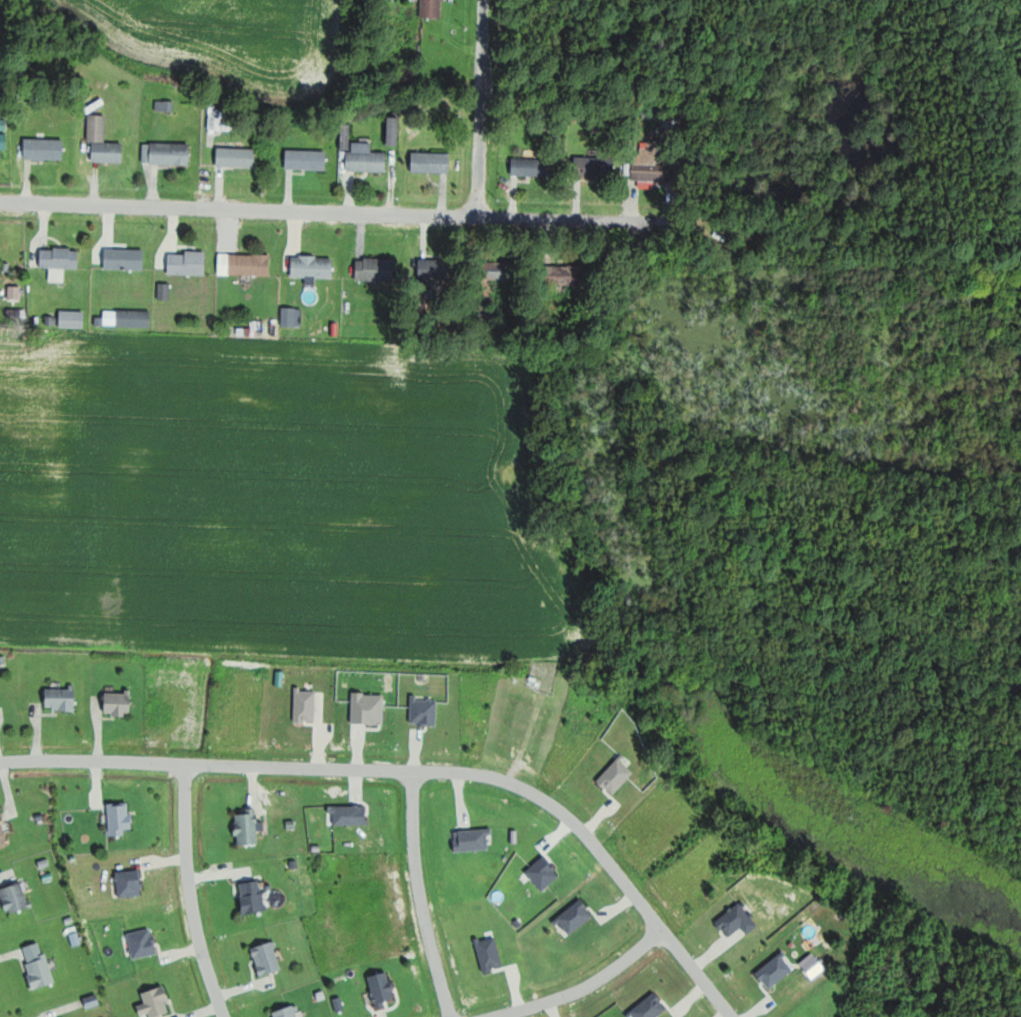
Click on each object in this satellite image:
building: (434, 8)
road: (484, 111)
building: (221, 121)
building: (104, 142)
building: (45, 149)
building: (167, 154)
building: (238, 158)
building: (367, 158)
building: (308, 160)
building: (433, 162)
building: (533, 167)
building: (596, 167)
building: (651, 169)
road: (339, 212)
building: (61, 258)
building: (126, 259)
building: (188, 263)
building: (246, 264)
building: (314, 267)
building: (376, 270)
building: (445, 270)
building: (504, 271)
building: (566, 275)
building: (128, 317)
building: (293, 317)
building: (73, 318)
building: (62, 699)
building: (119, 703)
road: (420, 770)
building: (121, 818)
building: (249, 826)
road: (193, 892)
road: (421, 895)
building: (254, 897)
building: (16, 898)
building: (268, 958)
building: (41, 971)
road: (582, 987)
building: (384, 988)
building: (156, 1003)
building: (289, 1012)

